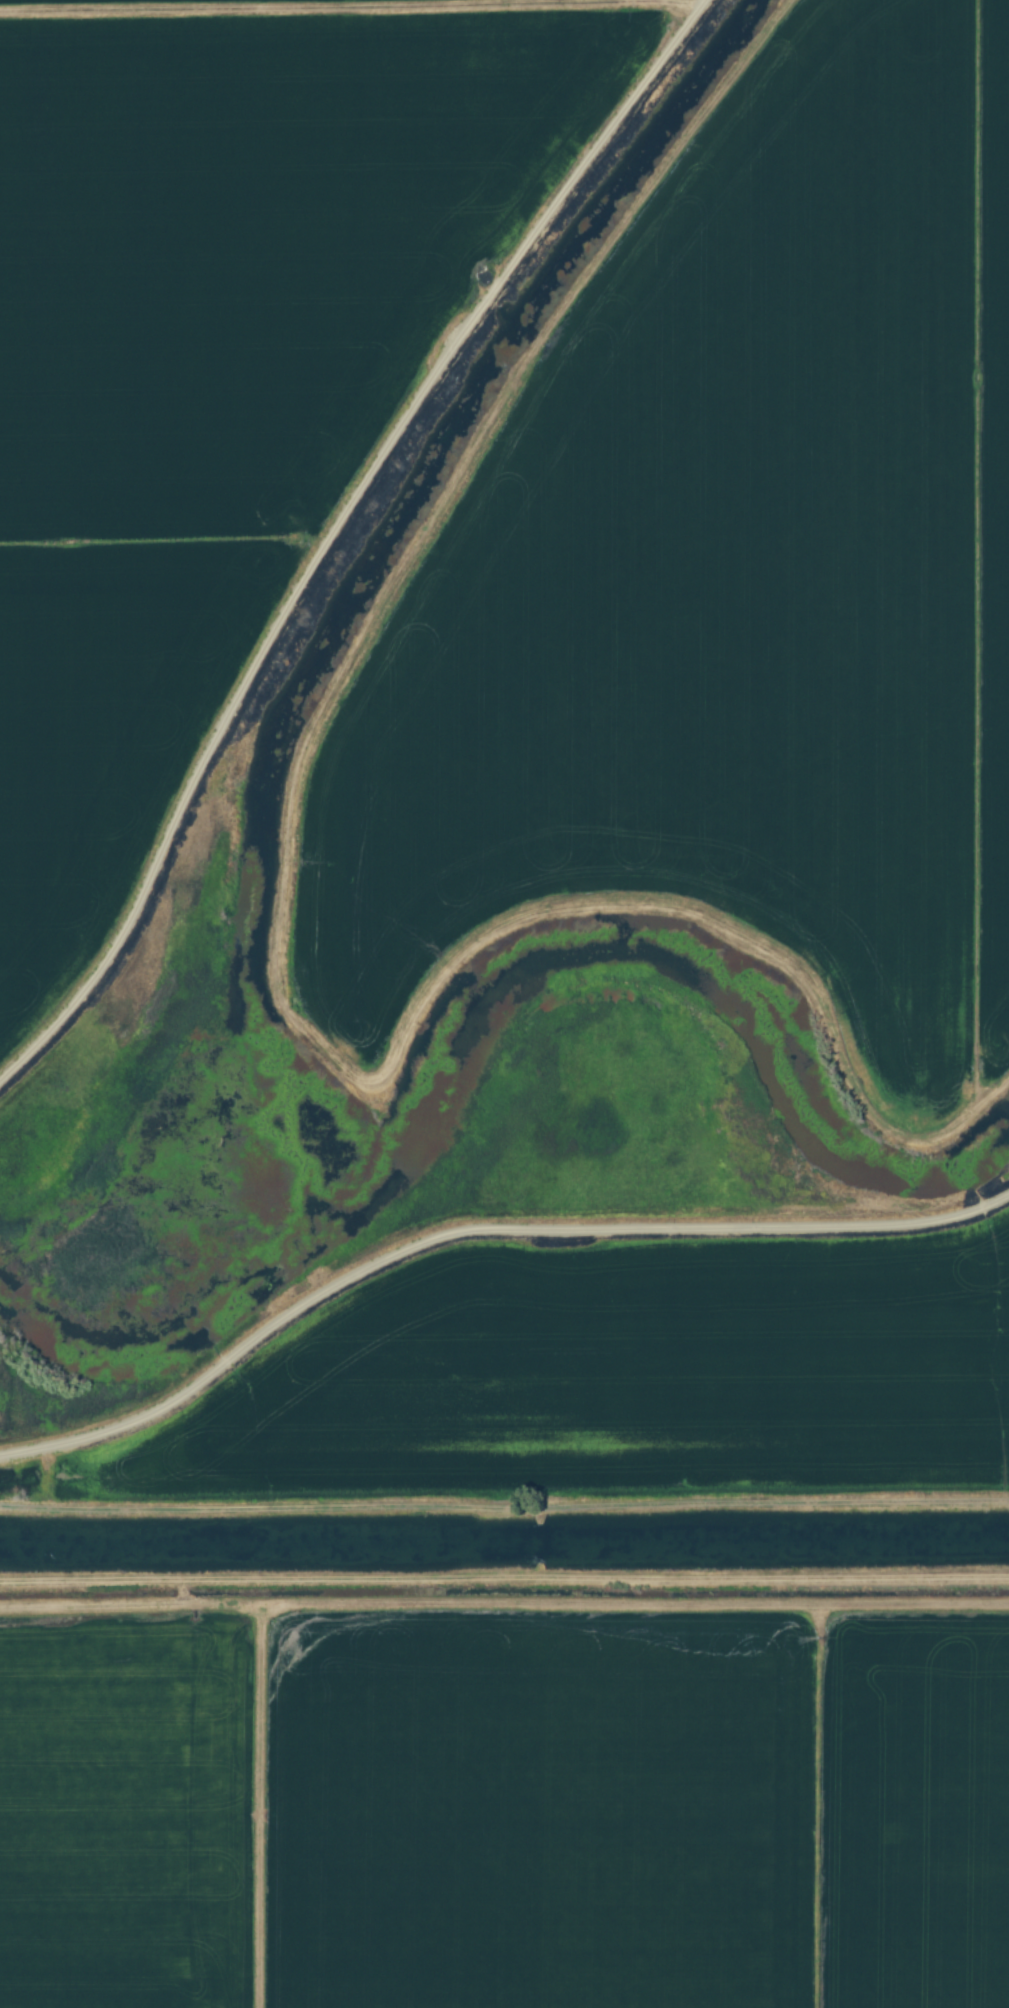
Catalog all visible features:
river: (504, 1542)

